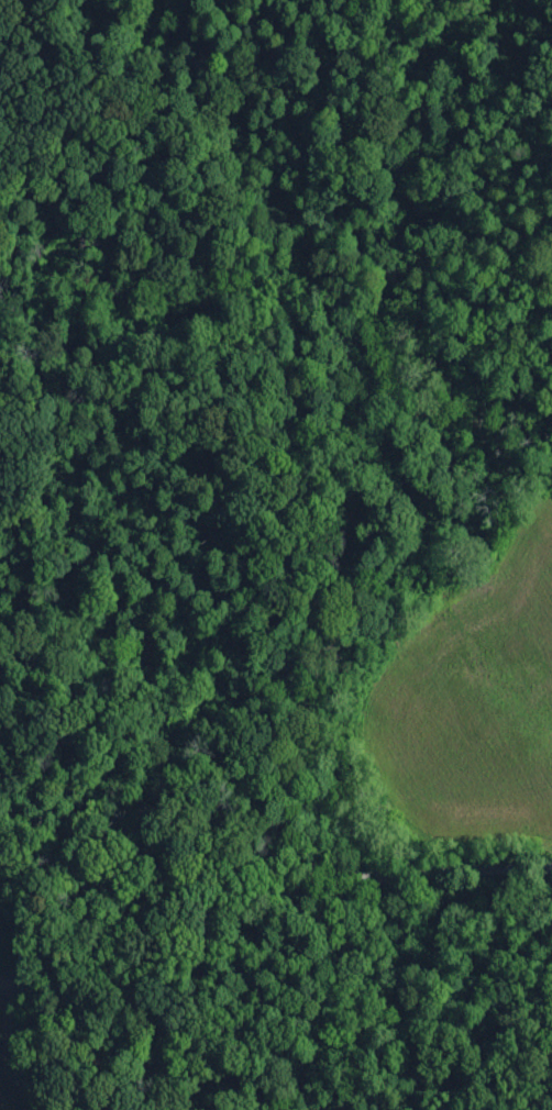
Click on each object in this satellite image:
road: (276, 850)
road: (23, 979)

